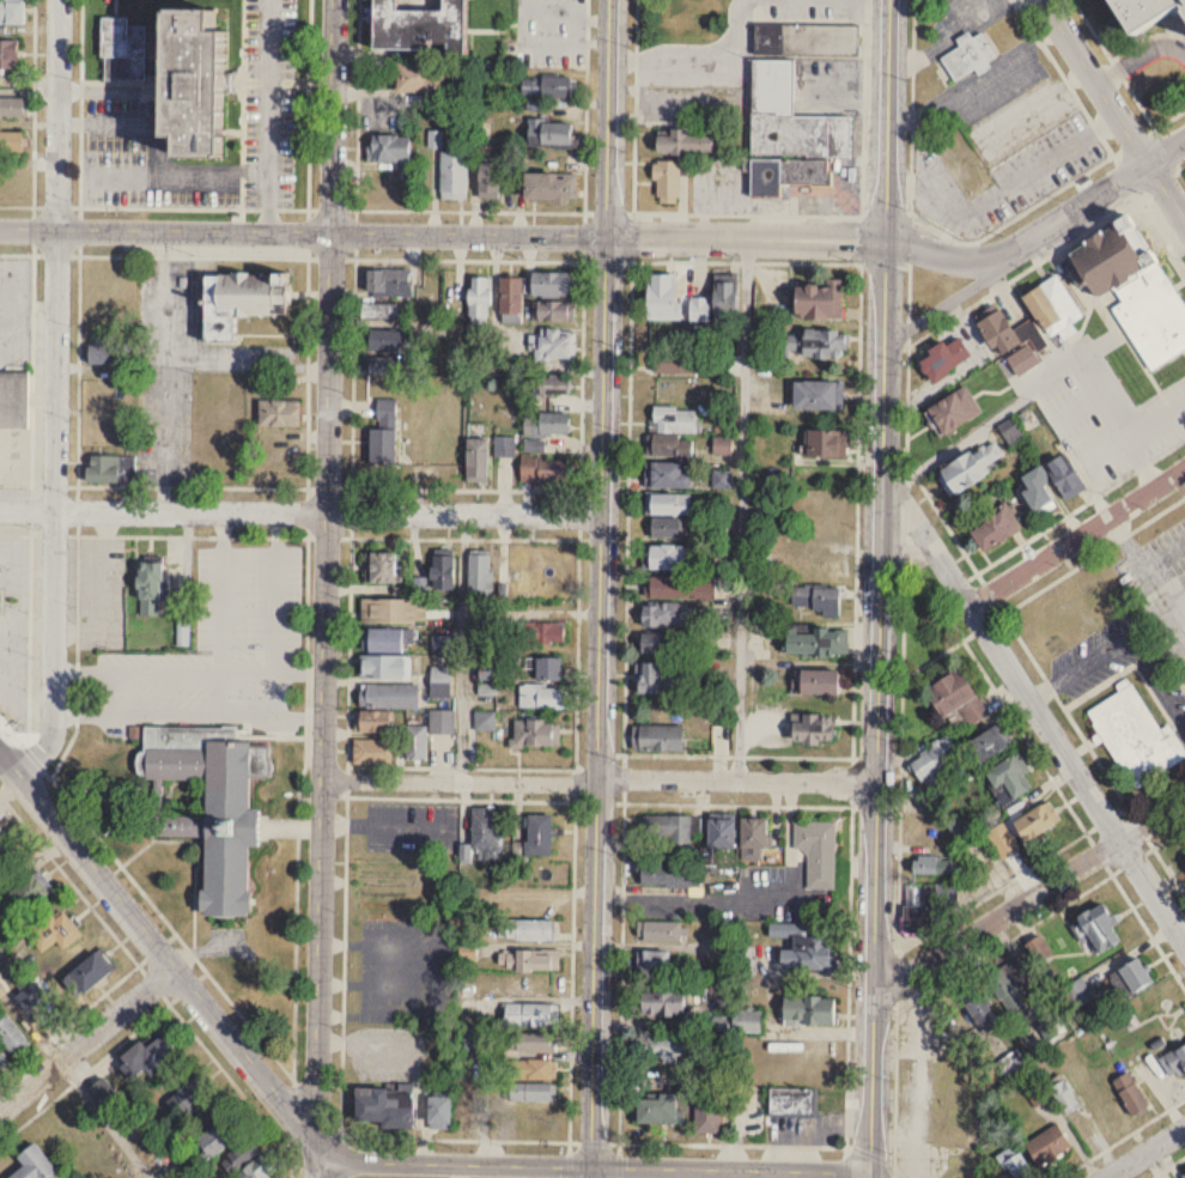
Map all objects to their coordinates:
building: (14, 11)
building: (1141, 12)
building: (426, 25)
road: (948, 34)
building: (806, 40)
building: (127, 49)
building: (11, 53)
road: (699, 56)
building: (967, 56)
road: (1140, 57)
building: (426, 77)
building: (211, 80)
road: (1094, 80)
building: (551, 85)
road: (29, 89)
road: (97, 89)
building: (14, 108)
road: (272, 115)
road: (610, 117)
building: (789, 134)
building: (553, 135)
building: (14, 138)
building: (682, 141)
building: (394, 147)
road: (1165, 150)
road: (157, 157)
road: (1119, 164)
road: (888, 171)
building: (457, 175)
building: (494, 180)
building: (666, 181)
building: (557, 187)
building: (13, 189)
road: (1165, 193)
road: (1082, 208)
road: (722, 212)
road: (304, 231)
road: (584, 235)
road: (747, 238)
road: (952, 259)
building: (388, 283)
building: (548, 284)
building: (1132, 289)
building: (510, 296)
road: (952, 297)
building: (660, 298)
building: (250, 300)
building: (479, 300)
building: (816, 302)
building: (715, 305)
building: (384, 310)
building: (546, 311)
building: (1031, 326)
building: (393, 340)
building: (814, 344)
building: (553, 346)
building: (674, 351)
building: (107, 353)
building: (942, 358)
road: (962, 368)
building: (384, 369)
building: (554, 384)
road: (77, 390)
road: (55, 393)
building: (816, 395)
building: (14, 396)
road: (308, 403)
building: (952, 411)
building: (284, 413)
road: (1119, 419)
road: (987, 423)
building: (548, 424)
building: (1011, 432)
building: (383, 433)
building: (824, 443)
building: (504, 447)
building: (535, 447)
building: (722, 447)
building: (276, 459)
building: (437, 459)
building: (476, 461)
building: (115, 468)
building: (968, 468)
building: (664, 472)
building: (542, 475)
building: (1063, 476)
building: (1034, 491)
building: (667, 500)
road: (579, 503)
road: (741, 509)
road: (302, 510)
building: (673, 529)
building: (992, 529)
road: (1076, 534)
building: (667, 553)
building: (381, 569)
building: (478, 572)
building: (442, 573)
building: (157, 588)
building: (671, 588)
road: (326, 589)
road: (221, 590)
road: (276, 591)
building: (816, 600)
building: (393, 612)
building: (667, 615)
road: (996, 615)
building: (541, 633)
building: (381, 640)
building: (813, 643)
building: (662, 645)
road: (464, 646)
building: (384, 668)
road: (164, 670)
building: (543, 670)
road: (299, 673)
building: (661, 679)
building: (439, 684)
building: (816, 684)
building: (388, 697)
building: (542, 698)
road: (600, 699)
building: (955, 699)
road: (1033, 704)
road: (188, 712)
building: (484, 722)
building: (372, 723)
building: (809, 730)
road: (852, 730)
building: (536, 734)
building: (657, 734)
building: (427, 735)
building: (1135, 739)
building: (986, 745)
building: (371, 753)
building: (934, 759)
road: (880, 760)
building: (1008, 778)
road: (601, 779)
road: (1155, 784)
road: (348, 795)
road: (712, 802)
road: (900, 812)
road: (1074, 812)
building: (188, 827)
building: (668, 830)
building: (959, 830)
building: (1025, 833)
building: (484, 834)
building: (719, 834)
building: (753, 834)
road: (1168, 836)
building: (535, 838)
building: (818, 852)
building: (1183, 860)
building: (931, 863)
road: (1168, 872)
building: (668, 881)
road: (146, 895)
road: (1028, 897)
building: (525, 906)
building: (929, 906)
road: (733, 911)
road: (956, 913)
building: (525, 925)
building: (1094, 928)
building: (60, 931)
building: (658, 931)
road: (1004, 941)
road: (156, 945)
road: (124, 947)
building: (807, 951)
building: (530, 957)
building: (654, 961)
building: (746, 961)
road: (849, 966)
building: (95, 973)
building: (1134, 974)
building: (530, 985)
building: (1080, 992)
building: (1011, 995)
building: (36, 997)
building: (660, 1002)
road: (159, 1008)
building: (976, 1008)
building: (528, 1010)
building: (808, 1010)
building: (745, 1021)
road: (30, 1025)
building: (14, 1034)
road: (86, 1039)
building: (531, 1039)
building: (474, 1040)
building: (663, 1046)
building: (4, 1059)
building: (151, 1059)
building: (1173, 1061)
building: (1014, 1063)
building: (531, 1065)
road: (618, 1085)
building: (533, 1088)
building: (108, 1093)
building: (1129, 1093)
building: (194, 1097)
building: (1063, 1097)
building: (790, 1103)
building: (381, 1109)
building: (652, 1109)
building: (438, 1113)
building: (707, 1116)
road: (108, 1119)
road: (826, 1128)
building: (79, 1135)
building: (227, 1136)
road: (1120, 1137)
building: (1047, 1146)
road: (782, 1149)
road: (1144, 1152)
road: (450, 1161)
building: (255, 1162)
building: (38, 1164)
building: (1014, 1164)
road: (1167, 1166)
road: (731, 1167)
road: (592, 1171)
road: (780, 1173)
road: (148, 1174)
road: (870, 1177)

